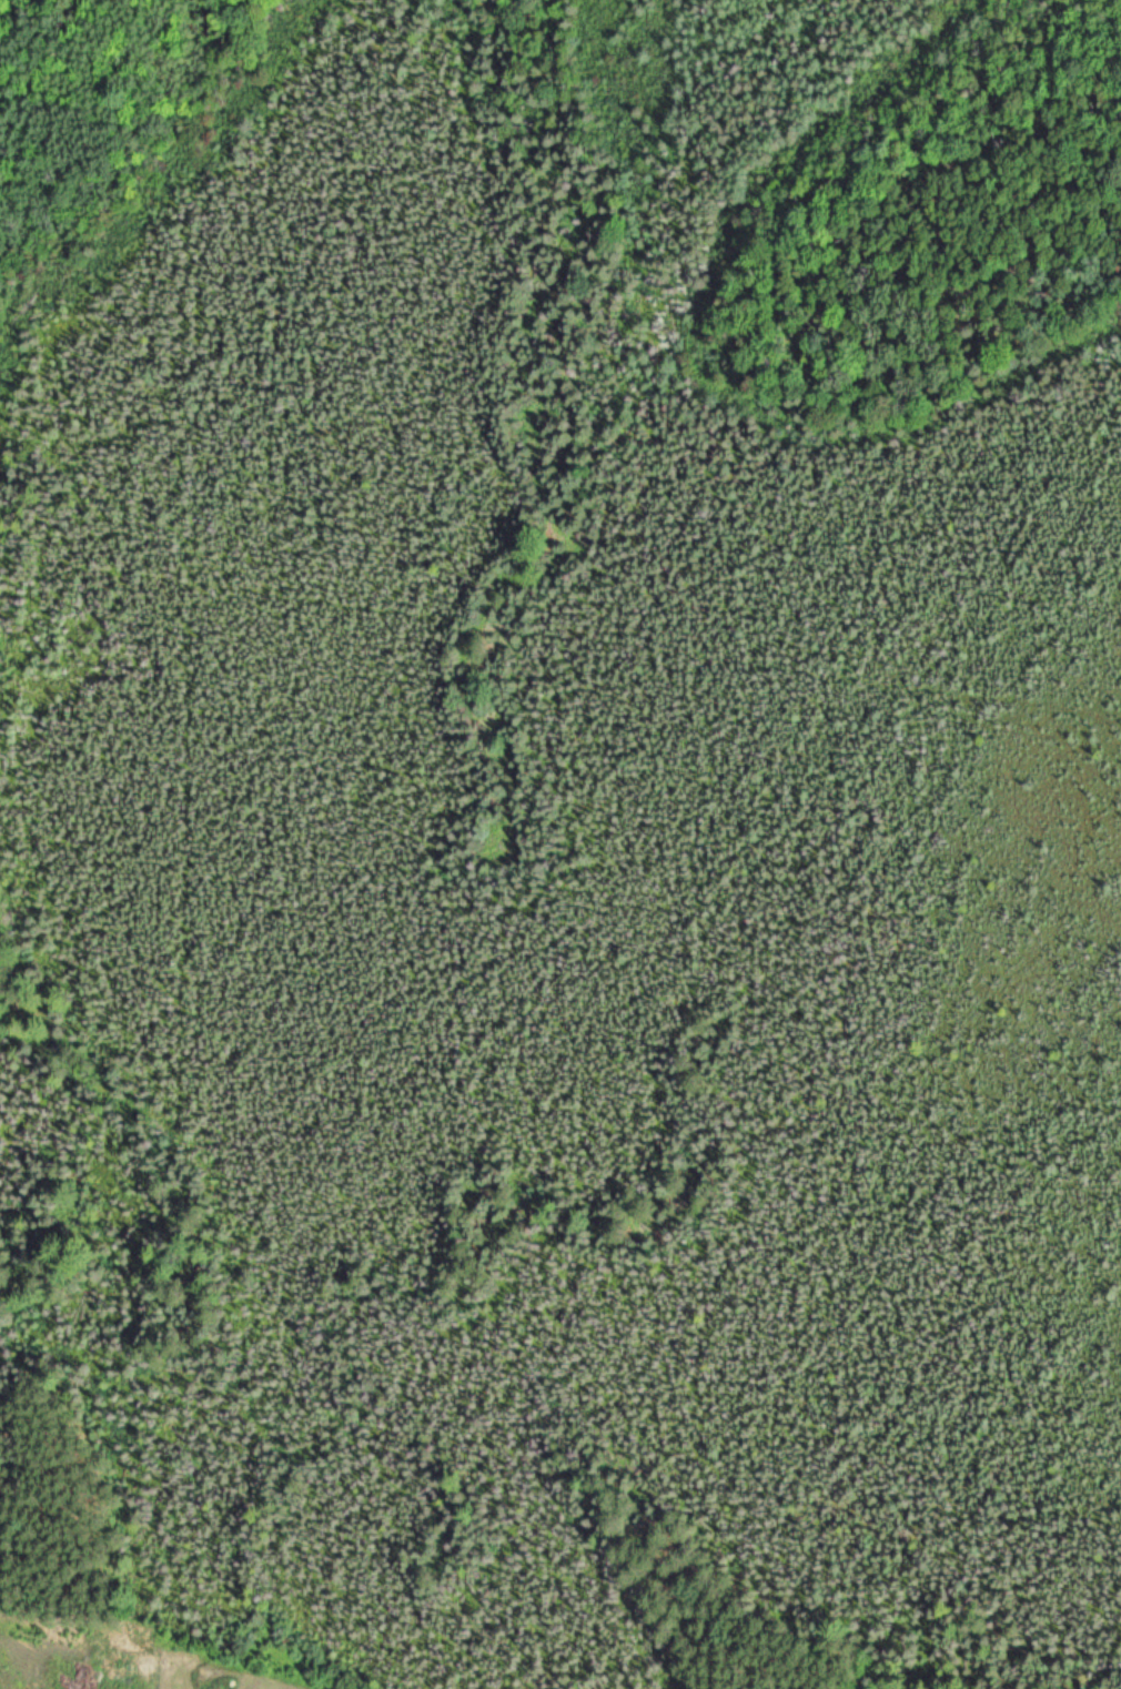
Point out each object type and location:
quarry: (163, 1651)

